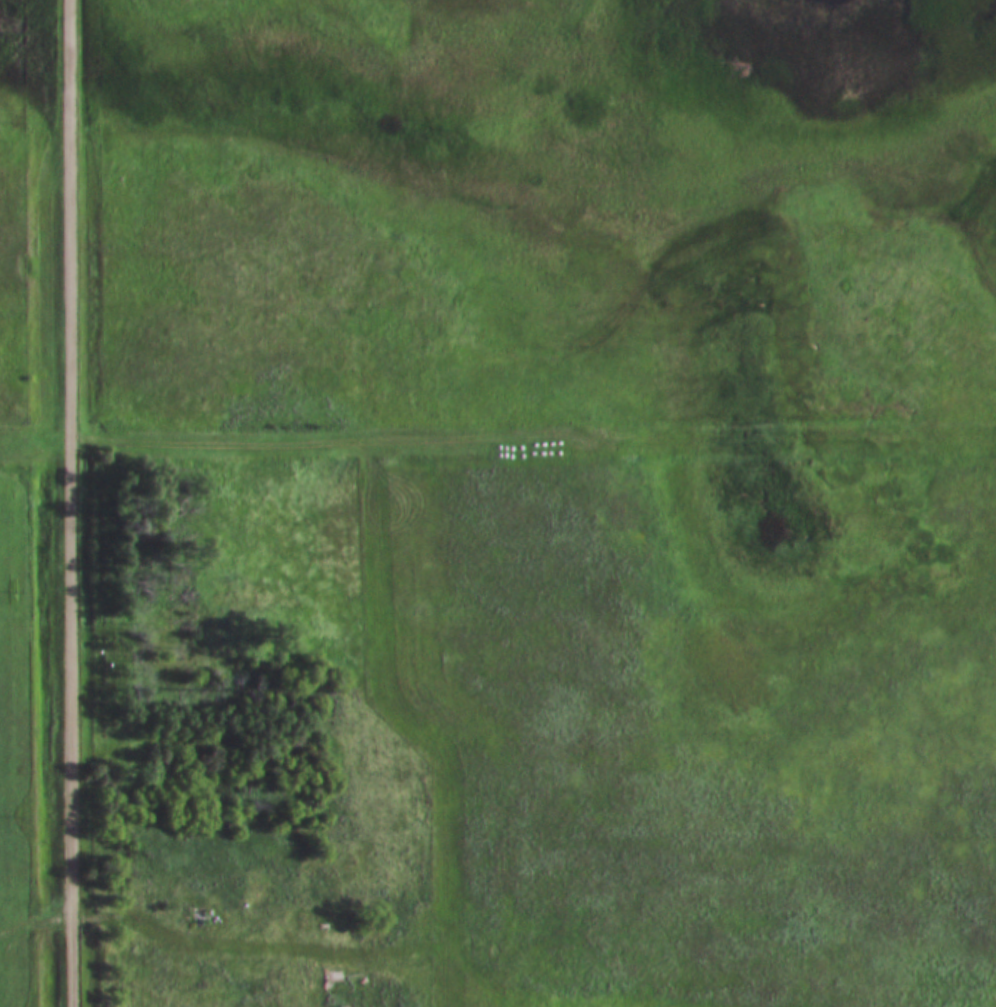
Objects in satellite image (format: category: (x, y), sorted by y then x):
road: (497, 437)
road: (70, 503)
road: (181, 908)

